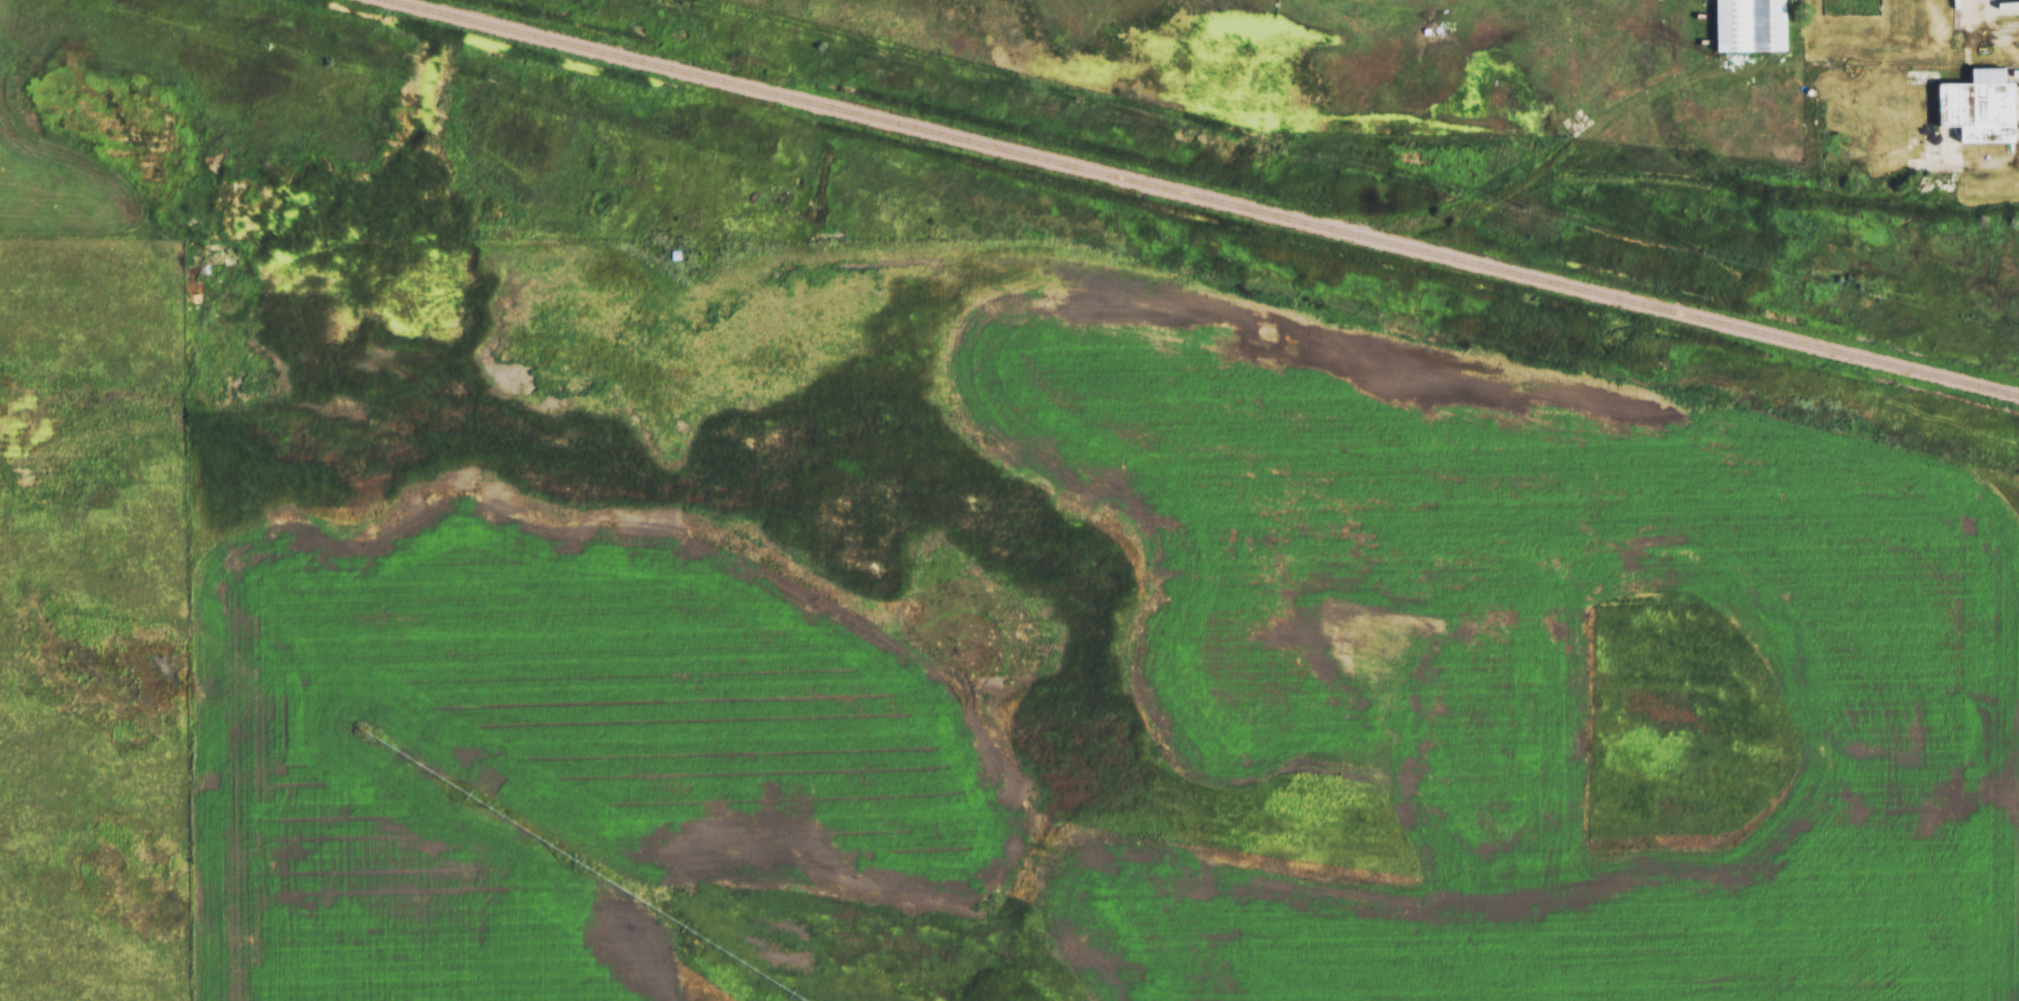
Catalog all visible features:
road: (1429, 4)
road: (1977, 4)
road: (1999, 8)
building: (1745, 26)
building: (1960, 110)
railway: (1202, 197)

